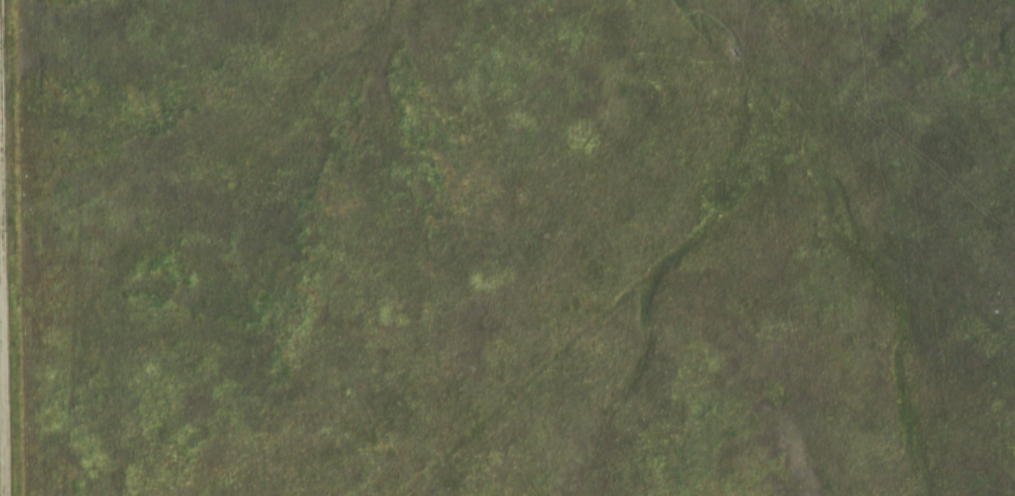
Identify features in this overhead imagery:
road: (2, 79)

